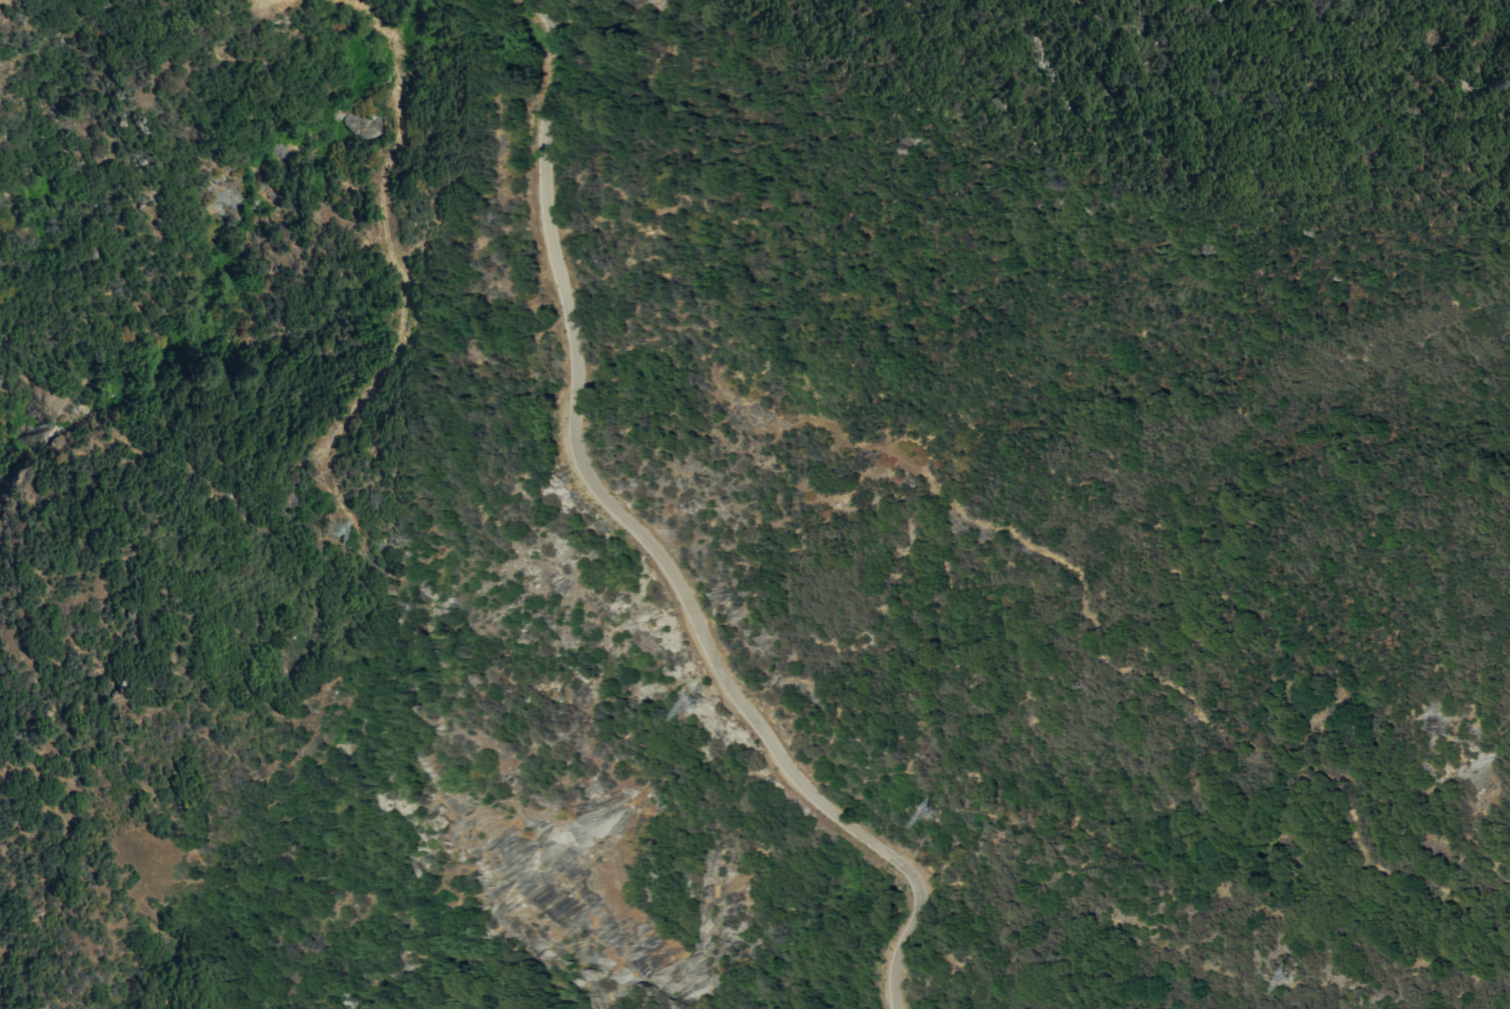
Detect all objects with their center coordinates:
road: (649, 541)
power tower: (937, 814)

